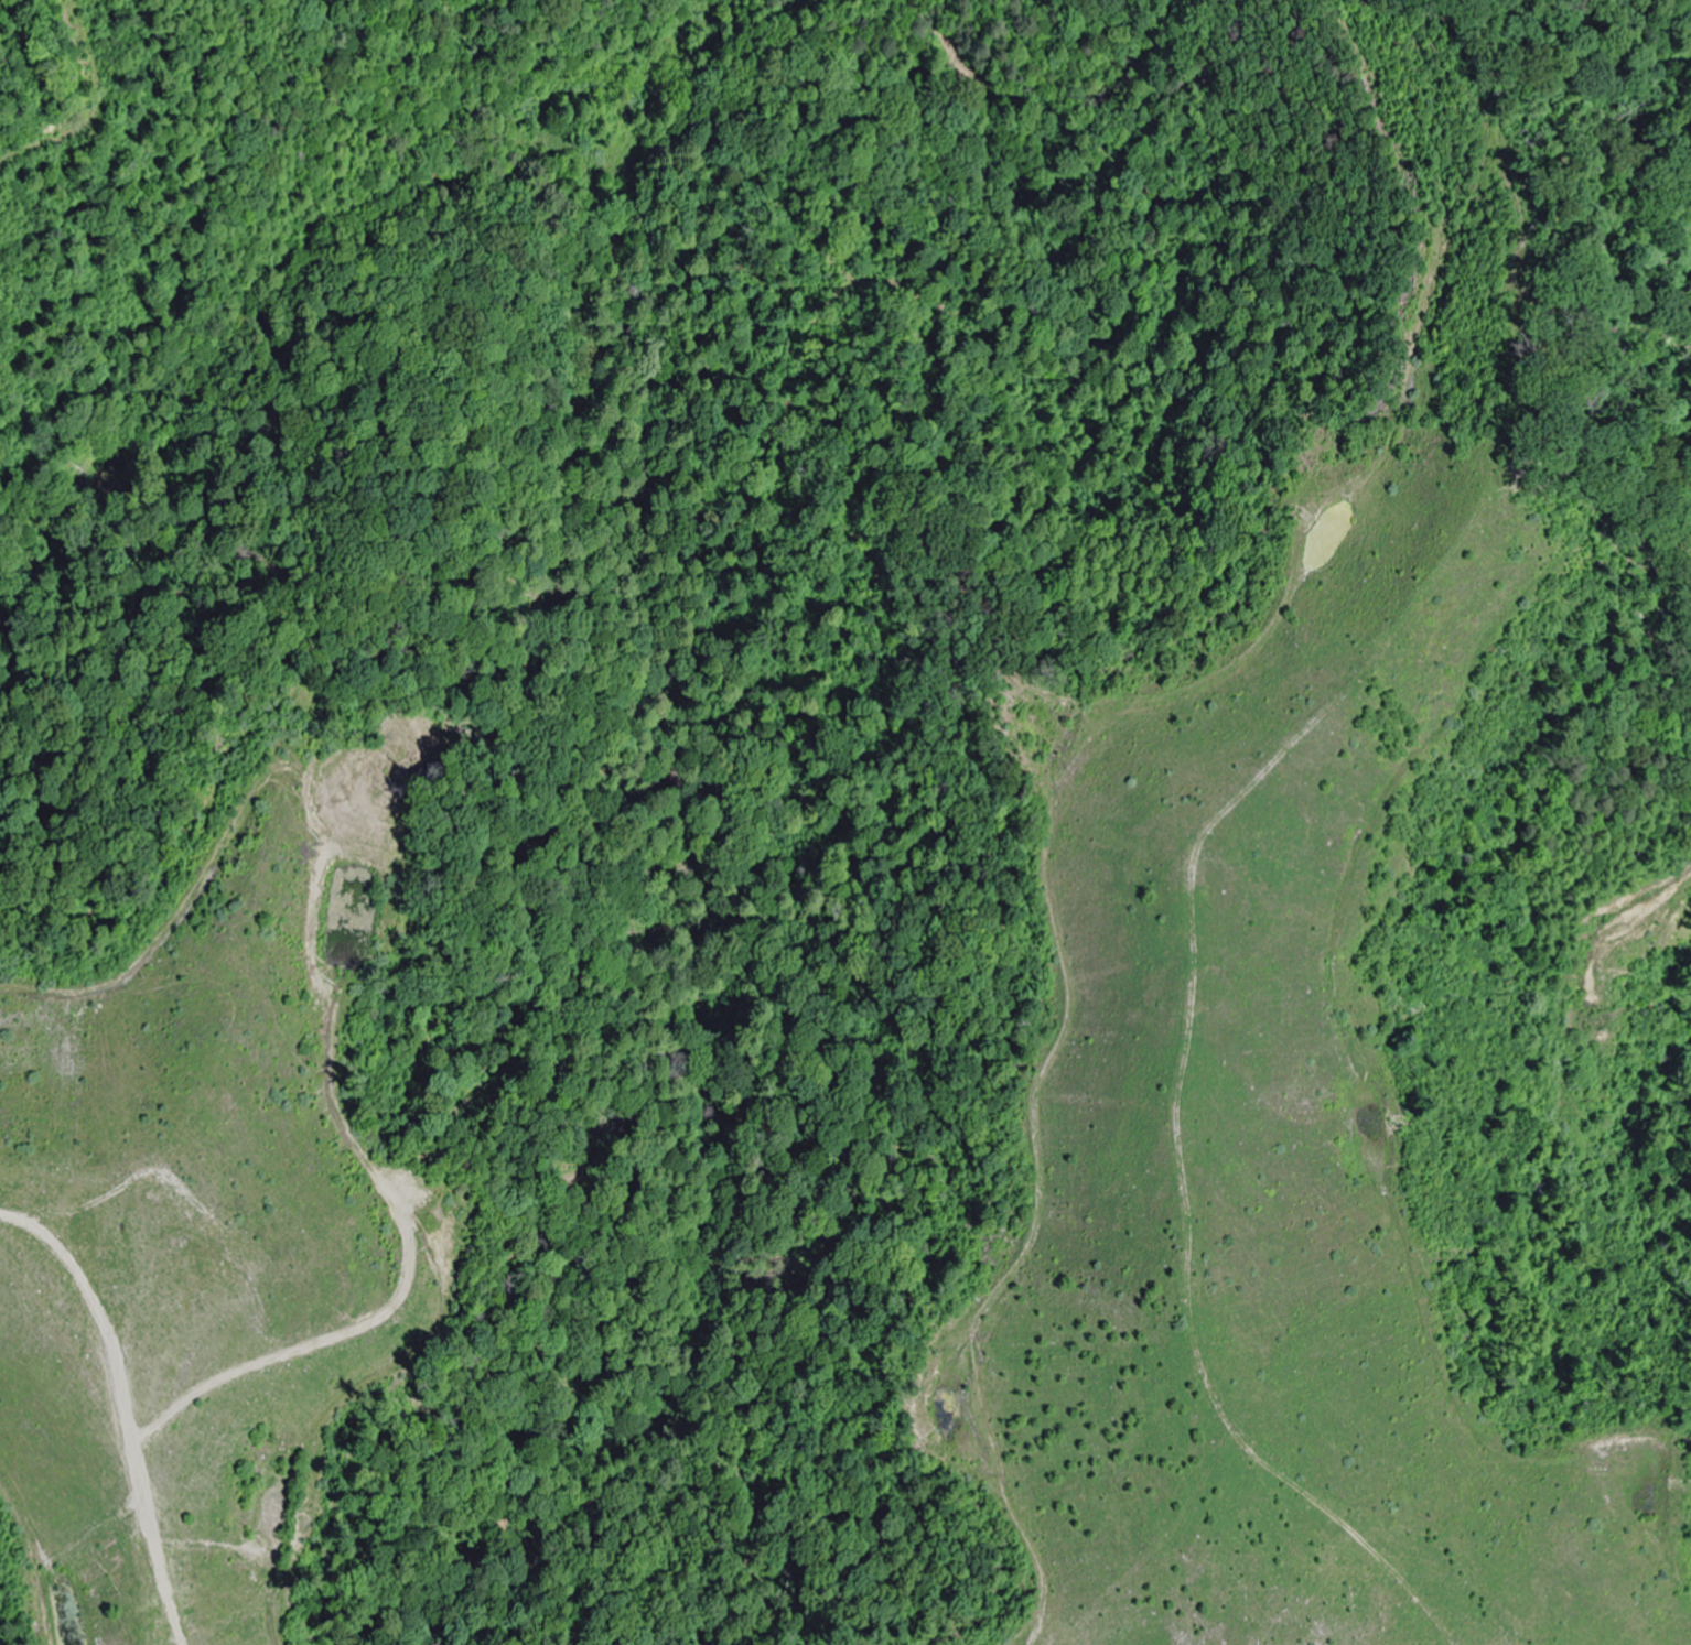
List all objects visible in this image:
road: (687, 55)
road: (1013, 102)
road: (595, 163)

